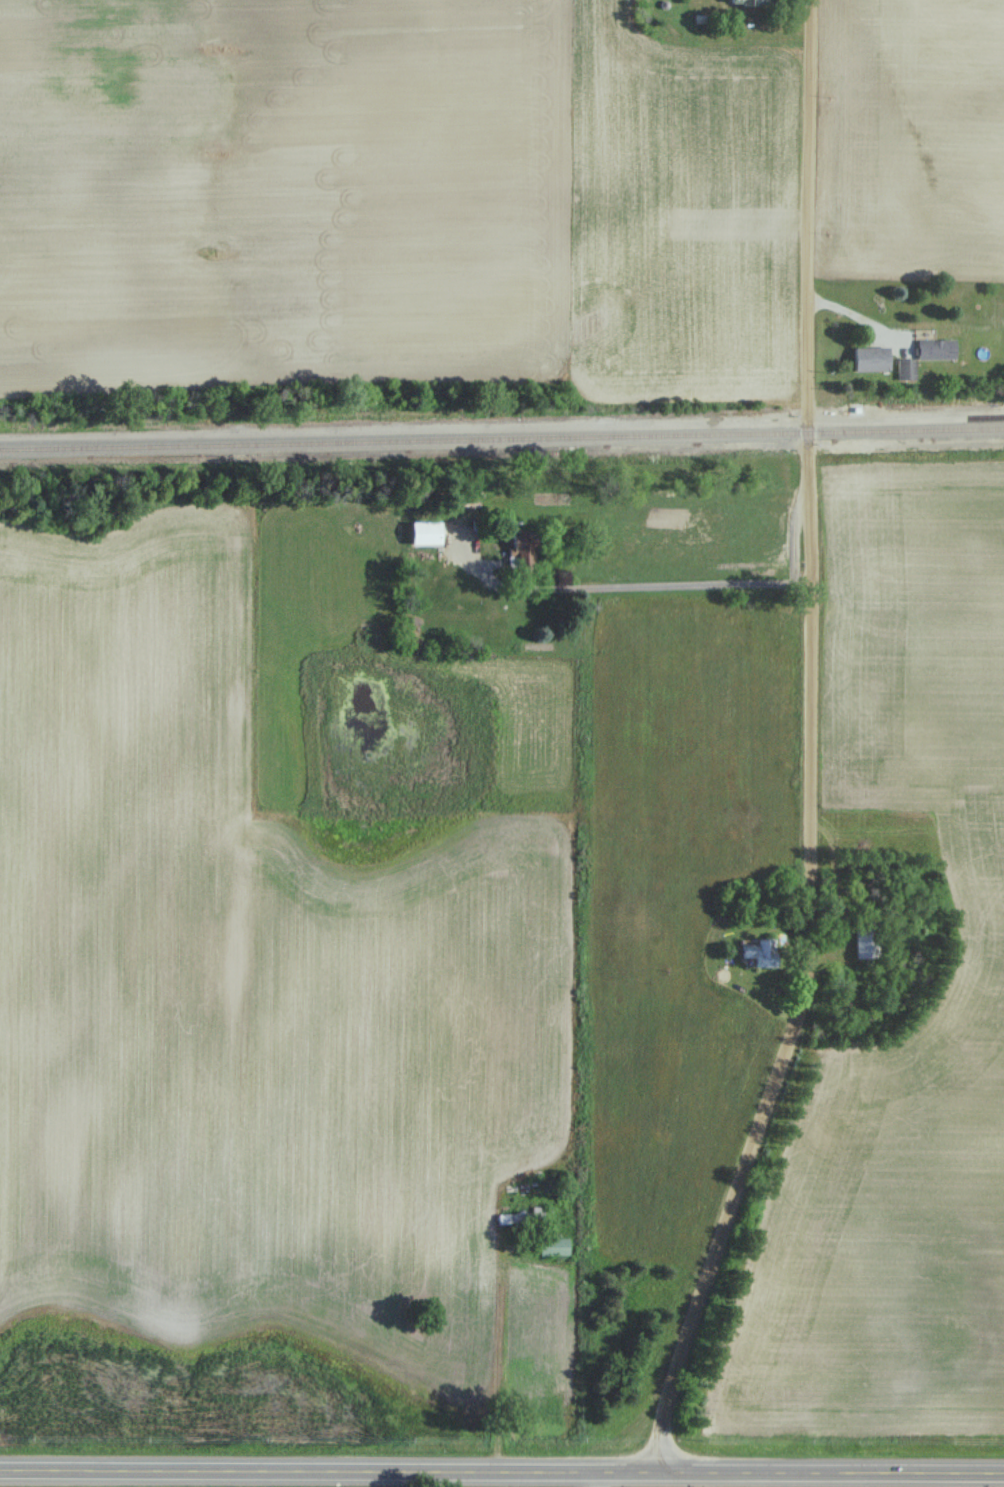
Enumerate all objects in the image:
building: (750, 2)
road: (848, 315)
building: (937, 349)
building: (873, 359)
building: (907, 369)
railway: (502, 439)
building: (521, 544)
road: (632, 584)
road: (812, 747)
building: (866, 942)
building: (760, 951)
building: (520, 1217)
building: (555, 1246)
road: (502, 1469)

